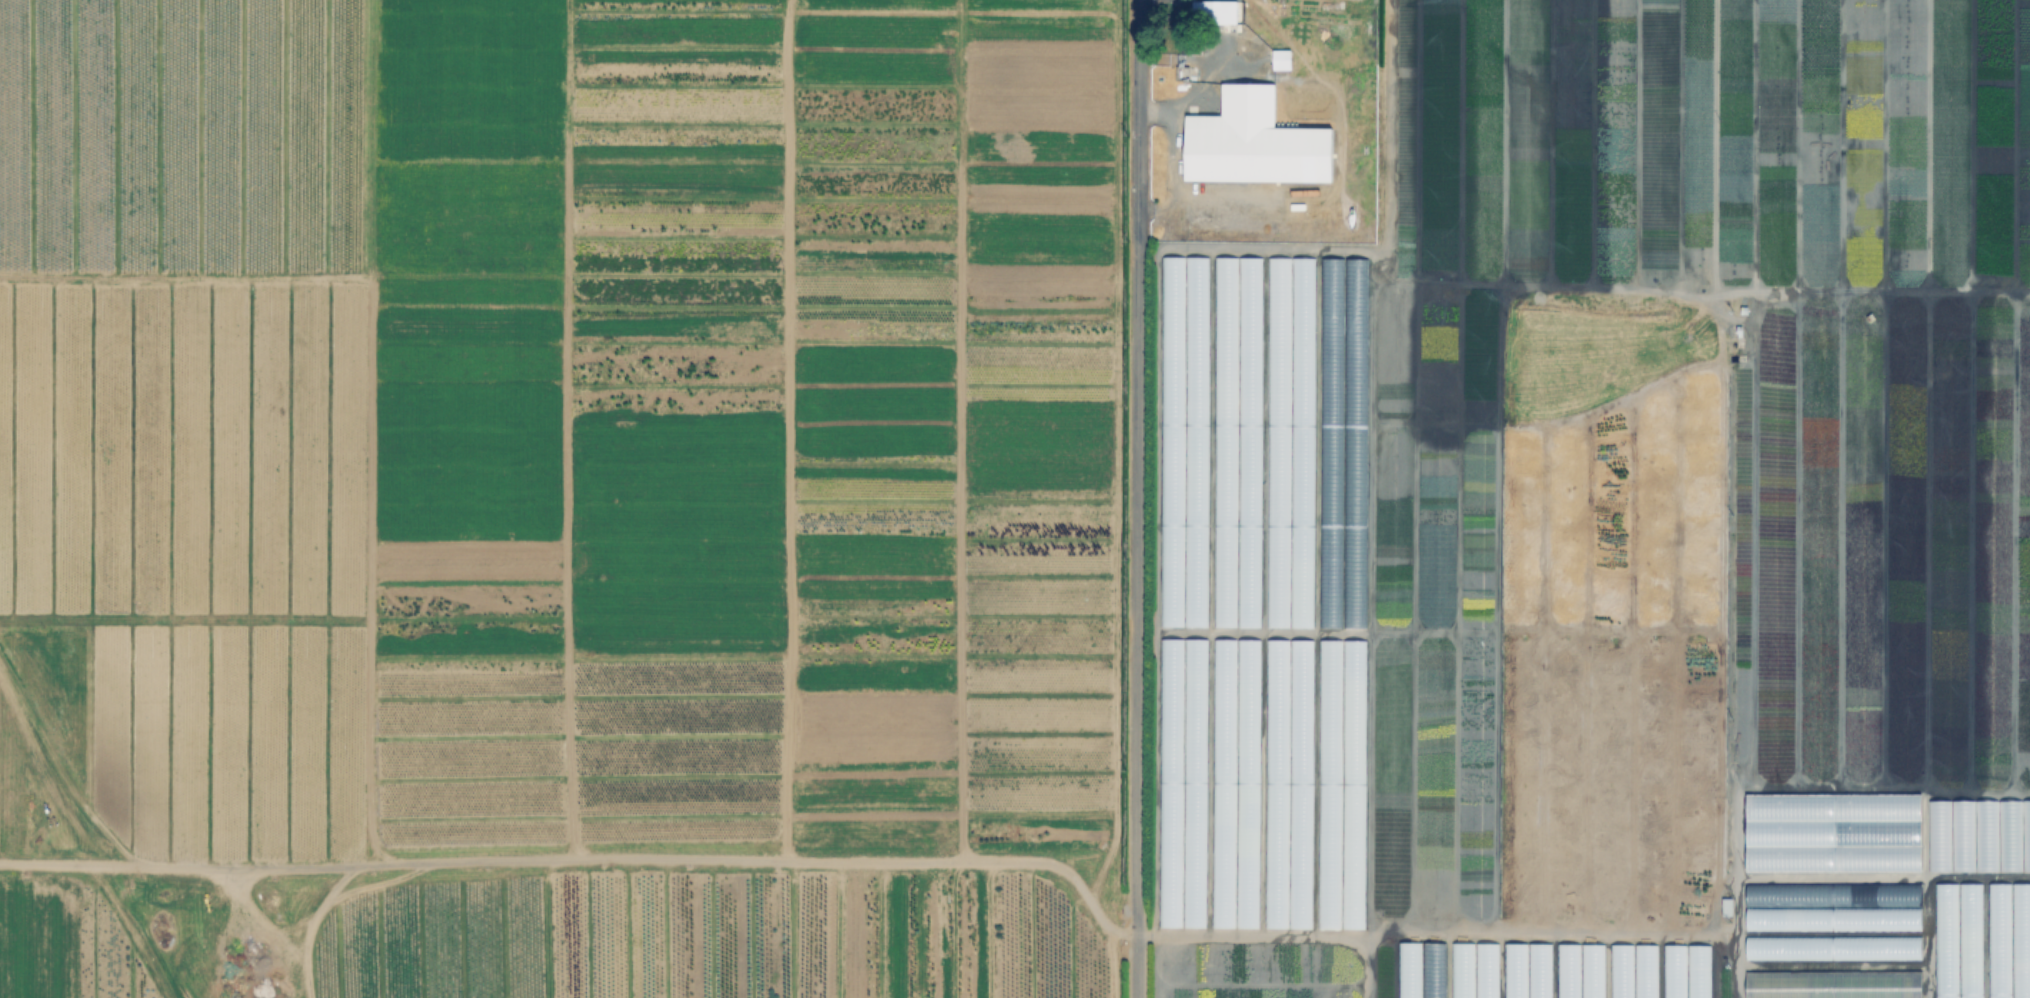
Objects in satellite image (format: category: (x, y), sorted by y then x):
building: (1215, 13)
building: (1283, 59)
building: (1255, 144)
building: (1225, 295)
building: (1341, 358)
road: (1137, 499)
road: (381, 583)
building: (1236, 585)
building: (1339, 588)
building: (1222, 651)
building: (1303, 667)
building: (1354, 675)
building: (1202, 783)
building: (1832, 832)
building: (1978, 835)
building: (1328, 881)
building: (1354, 889)
building: (1832, 894)
building: (1832, 918)
road: (1237, 932)
building: (1944, 940)
building: (1969, 940)
building: (1997, 940)
building: (2020, 940)
building: (1832, 947)
road: (1369, 956)
building: (1420, 969)
building: (1462, 970)
building: (1485, 970)
building: (1527, 970)
building: (1580, 970)
building: (1644, 971)
building: (1674, 971)
building: (1697, 971)
building: (1833, 984)

